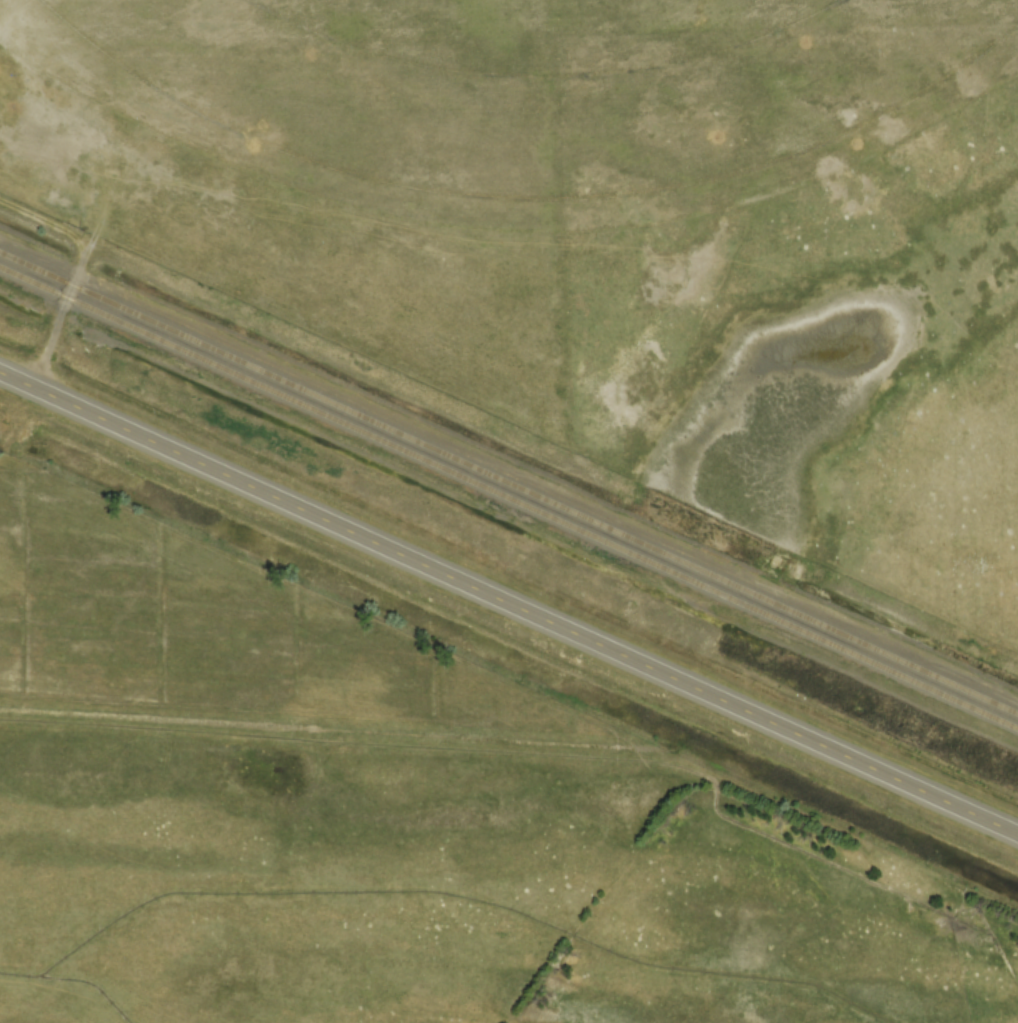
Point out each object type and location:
railway: (509, 481)
railway: (509, 496)
road: (509, 602)

